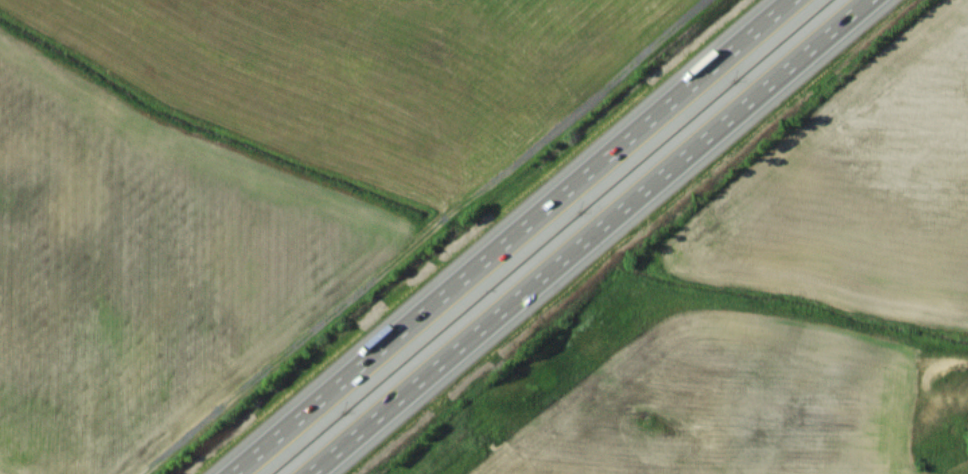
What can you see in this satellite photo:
road: (511, 237)
road: (588, 237)

